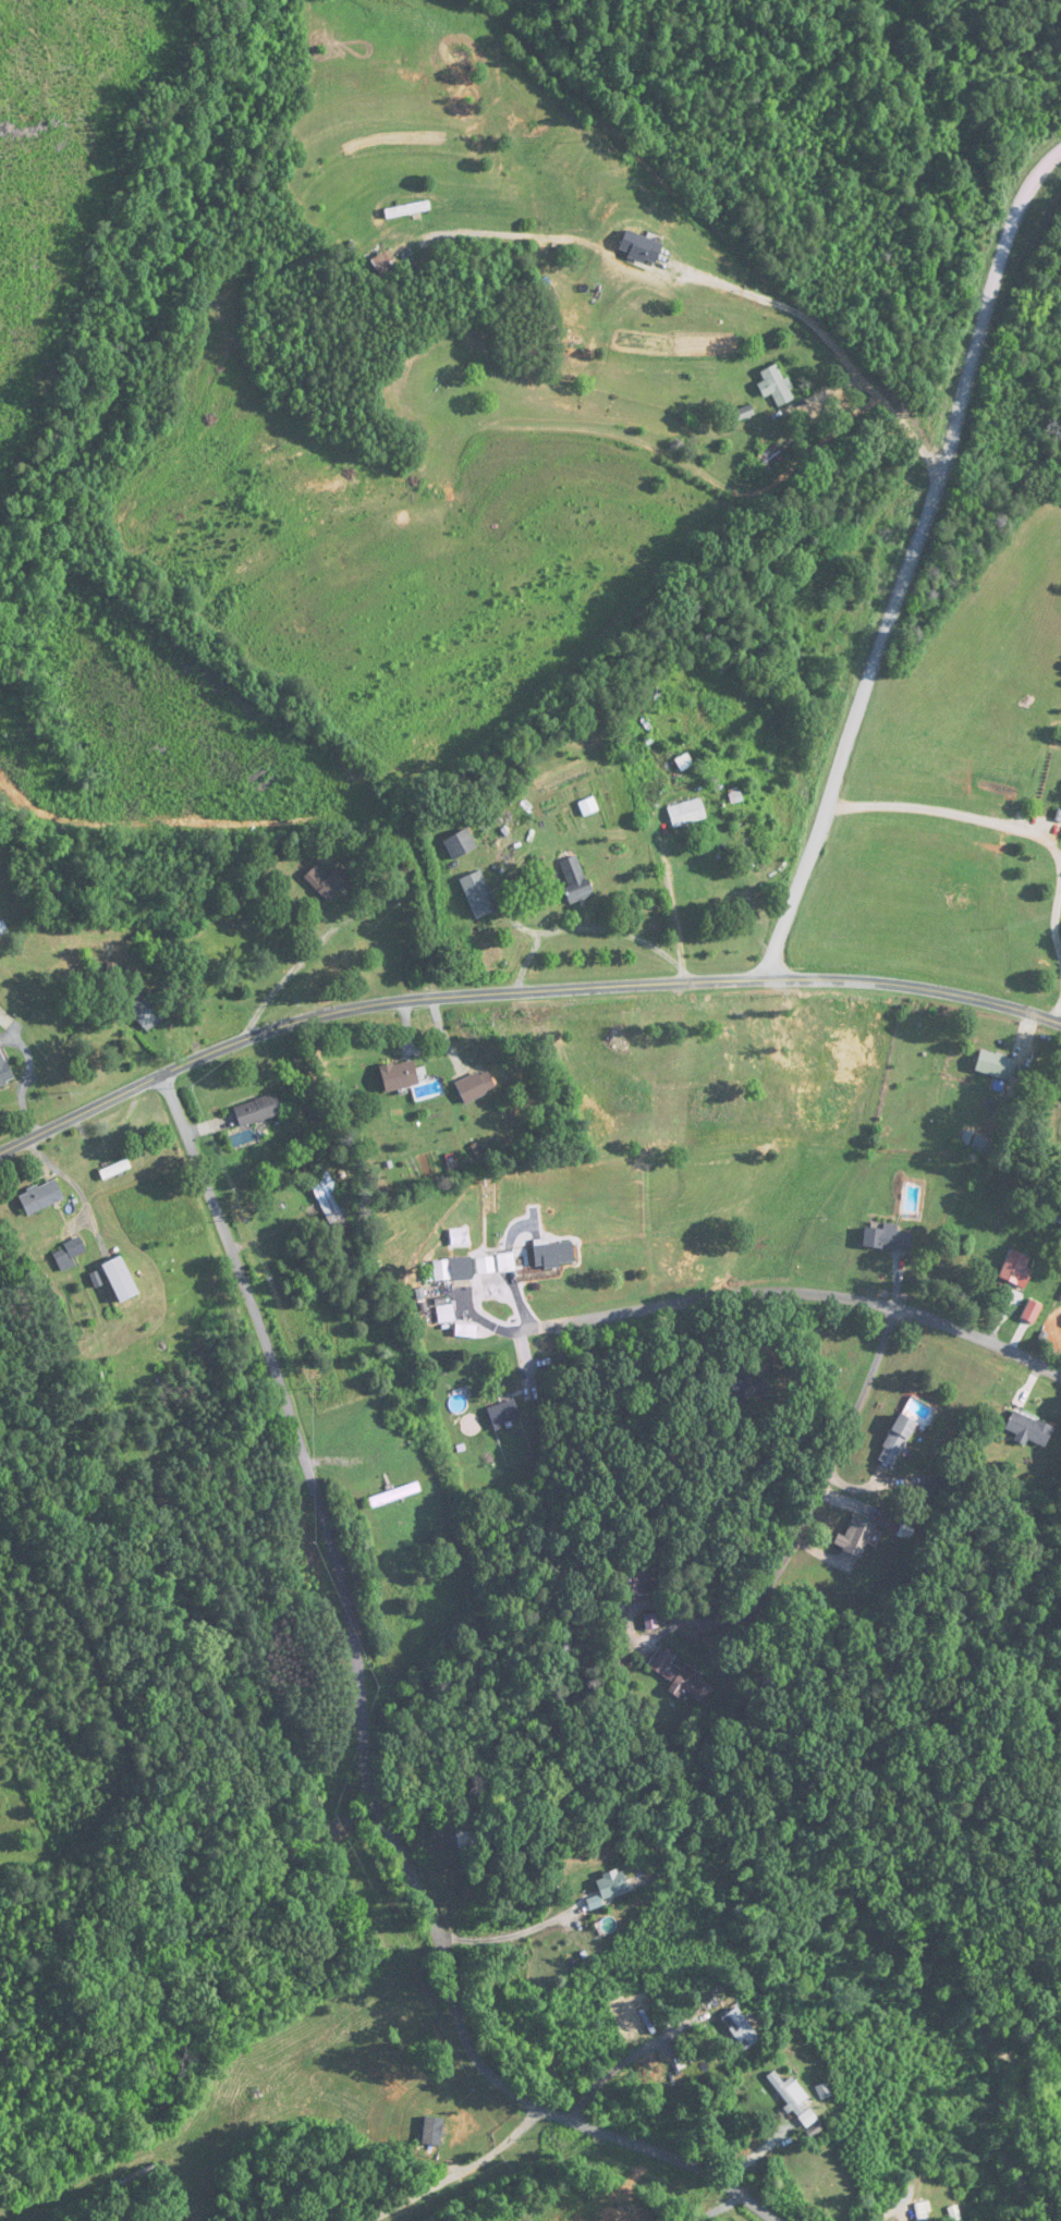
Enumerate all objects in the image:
building: (407, 210)
building: (383, 264)
road: (776, 301)
building: (777, 386)
road: (905, 420)
road: (924, 524)
building: (807, 623)
building: (687, 813)
road: (956, 814)
building: (460, 844)
building: (575, 879)
building: (326, 881)
building: (478, 894)
road: (1056, 919)
road: (782, 939)
road: (517, 989)
building: (146, 1011)
road: (1057, 1011)
building: (996, 1065)
building: (4, 1071)
road: (26, 1072)
building: (399, 1075)
building: (475, 1086)
building: (258, 1110)
building: (114, 1170)
road: (75, 1185)
building: (40, 1197)
building: (329, 1199)
building: (1058, 1218)
building: (459, 1237)
building: (887, 1238)
building: (70, 1252)
building: (553, 1255)
building: (452, 1270)
building: (1015, 1270)
building: (120, 1279)
road: (796, 1292)
building: (1032, 1311)
building: (444, 1314)
building: (748, 1387)
building: (503, 1413)
building: (1029, 1428)
road: (297, 1431)
building: (897, 1440)
road: (818, 1491)
building: (394, 1496)
building: (633, 1583)
building: (681, 1676)
building: (466, 1836)
building: (612, 1884)
road: (508, 1933)
building: (740, 2028)
road: (613, 2069)
road: (455, 2073)
road: (505, 2082)
building: (794, 2101)
building: (432, 2132)
road: (458, 2170)
road: (718, 2208)
building: (923, 2211)

